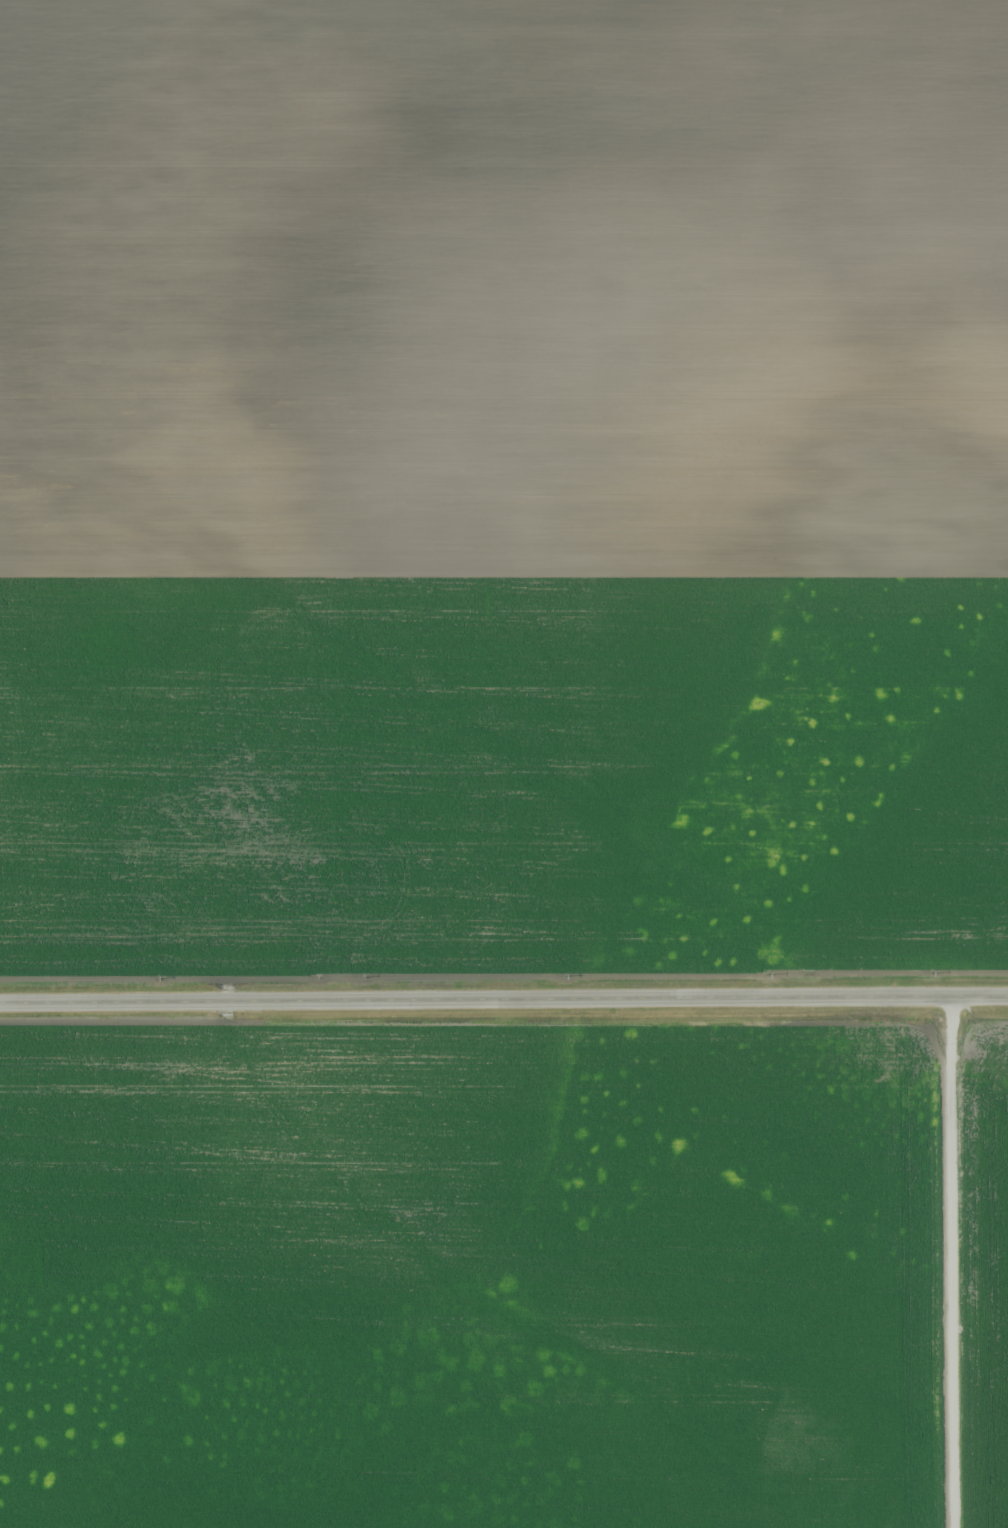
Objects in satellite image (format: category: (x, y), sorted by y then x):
road: (504, 978)
road: (503, 999)
road: (959, 1262)

